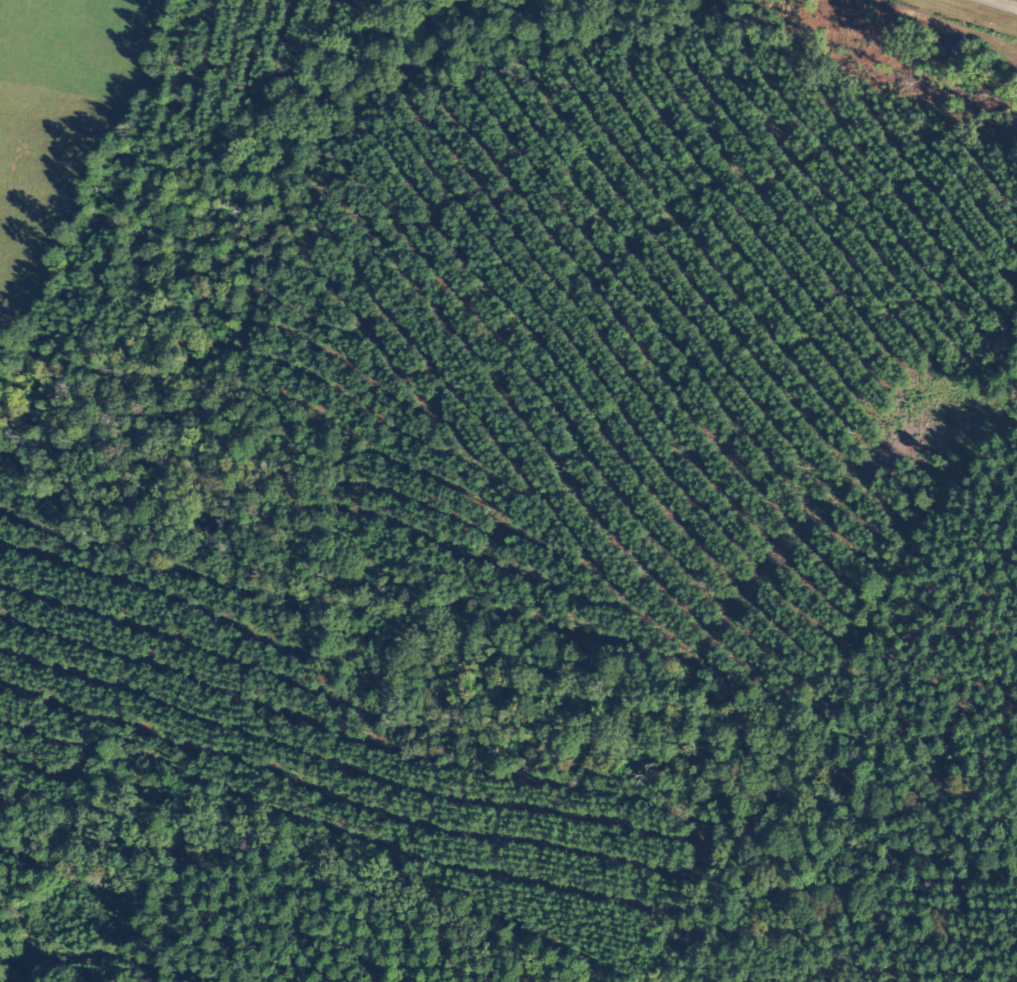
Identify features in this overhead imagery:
road: (1004, 3)

